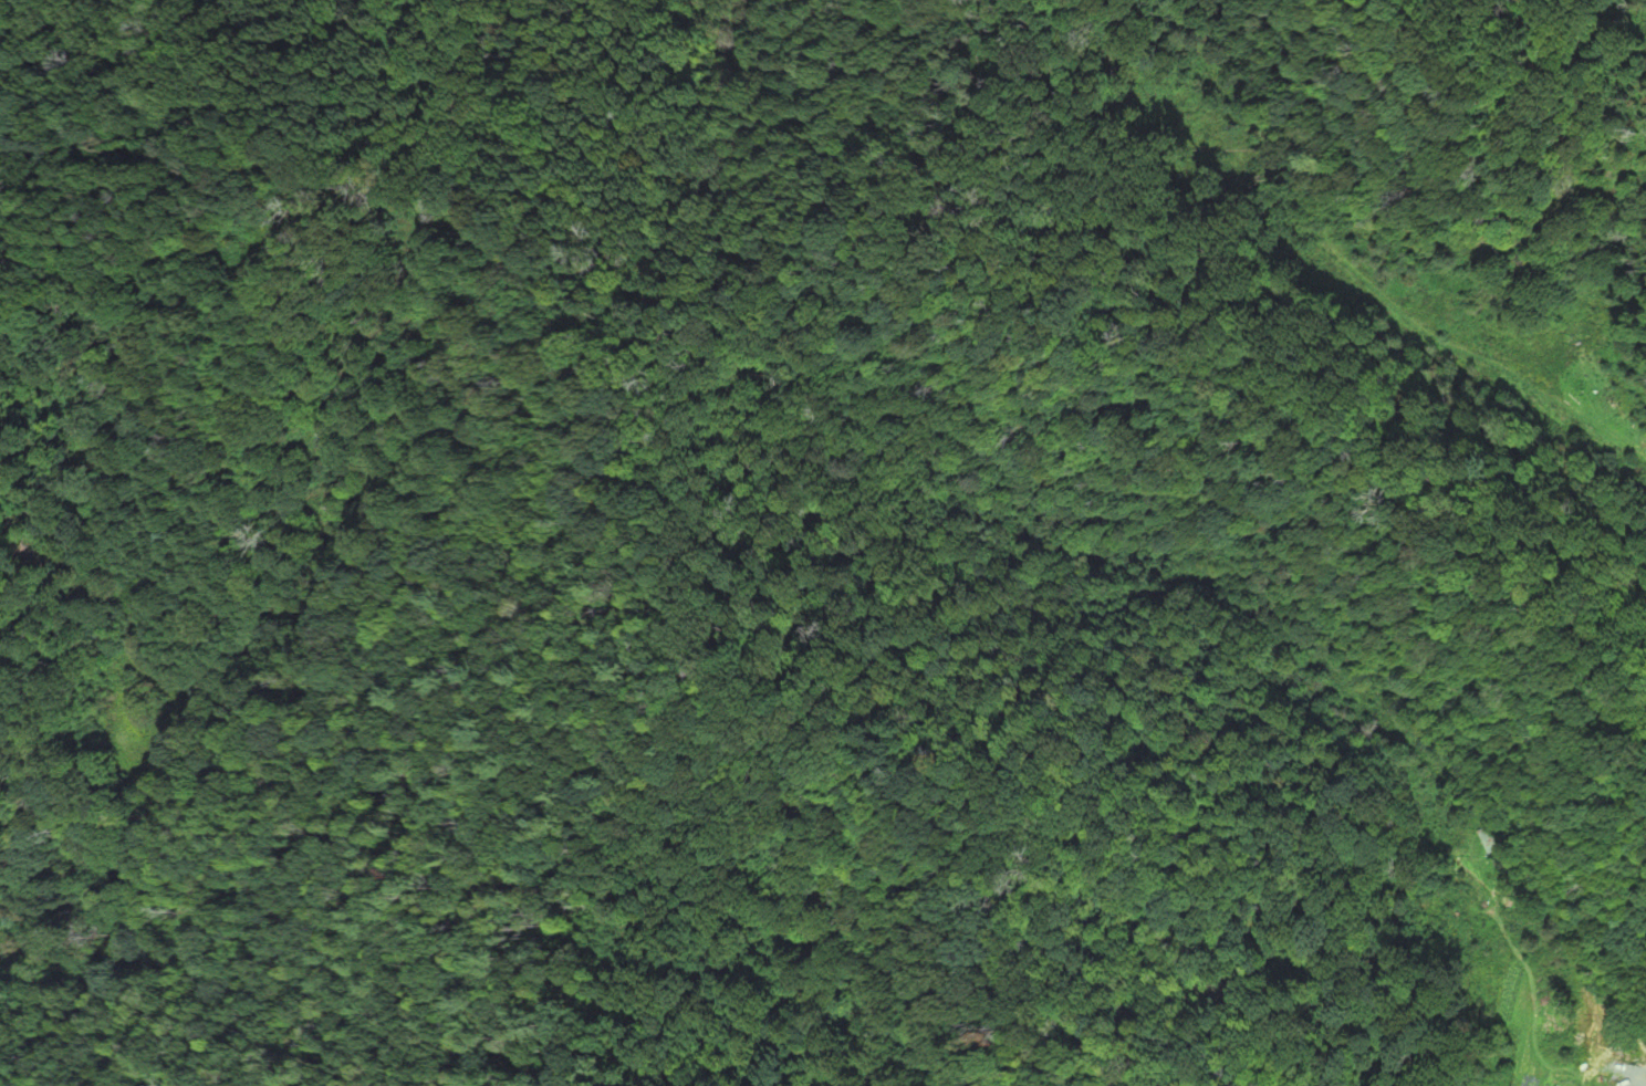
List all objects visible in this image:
building: (1483, 839)

